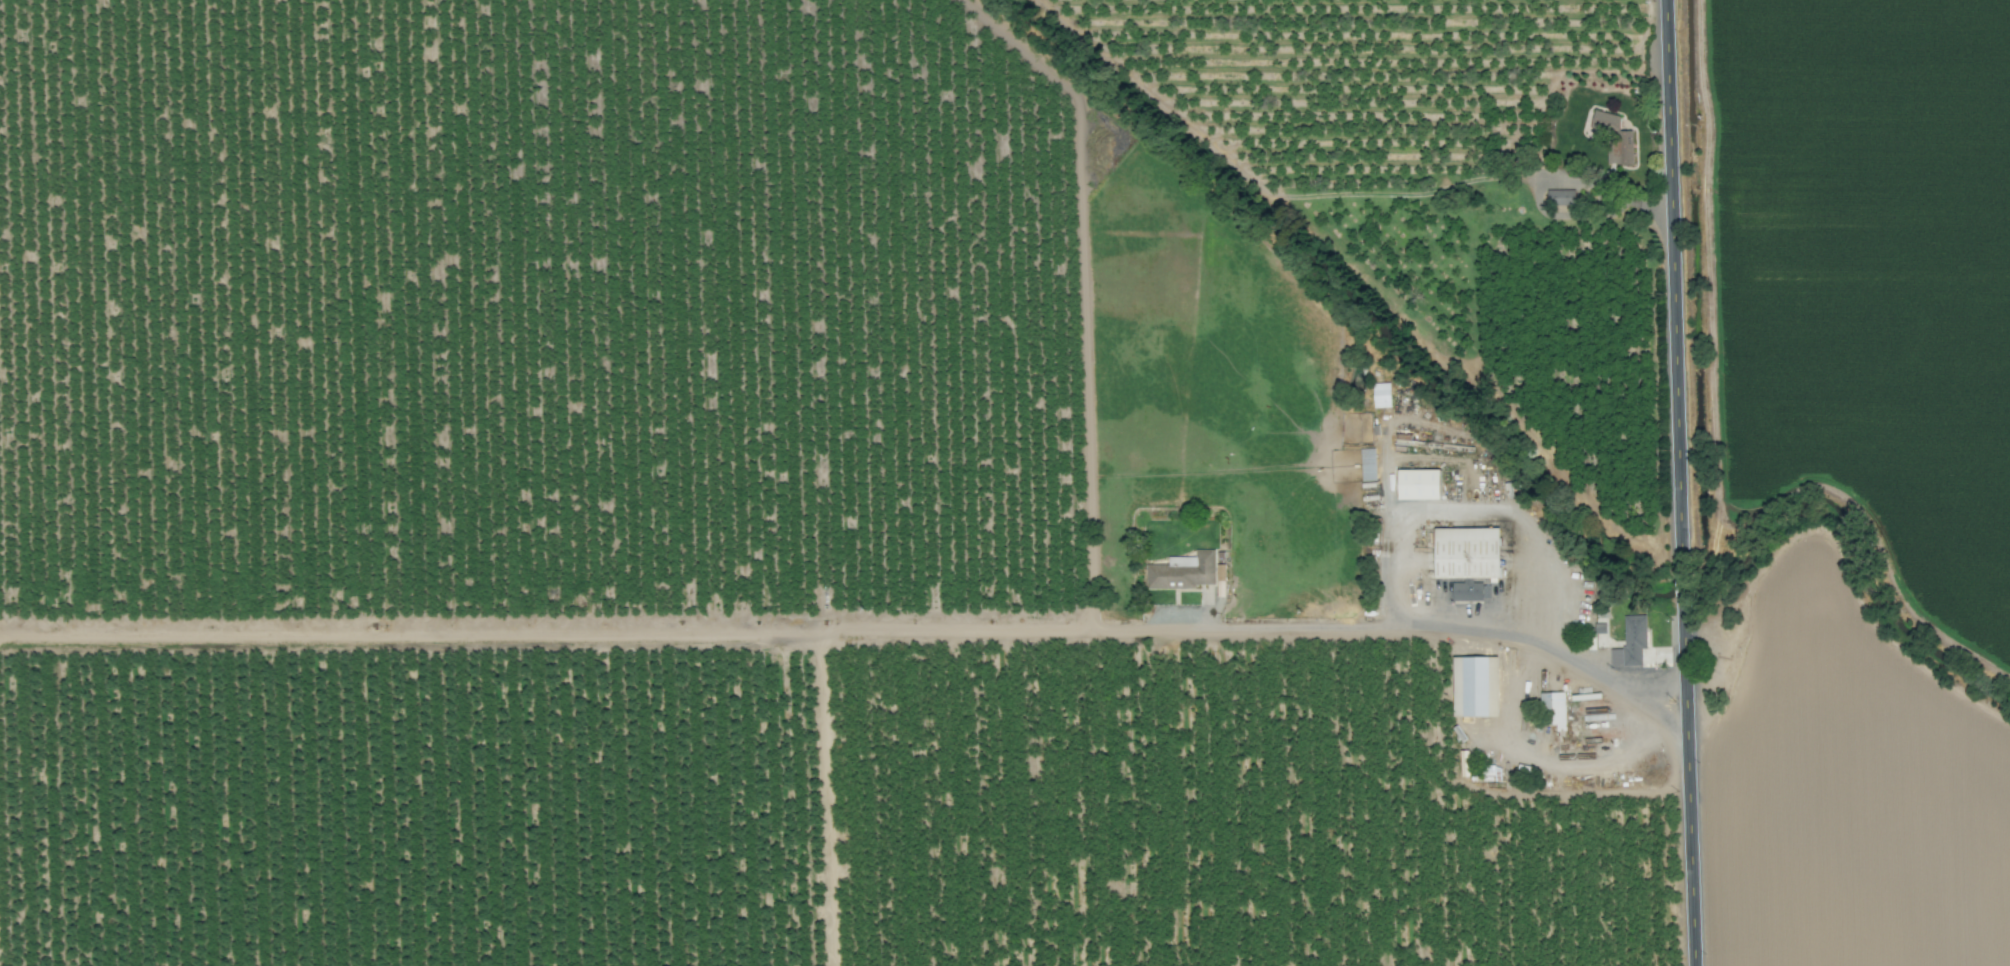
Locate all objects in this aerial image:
building: (1613, 138)
building: (1560, 200)
road: (1582, 200)
building: (1368, 467)
road: (1677, 483)
building: (1466, 555)
building: (1183, 574)
building: (1466, 594)
road: (1389, 595)
road: (1290, 627)
building: (1634, 644)
building: (1475, 690)
building: (1550, 712)

